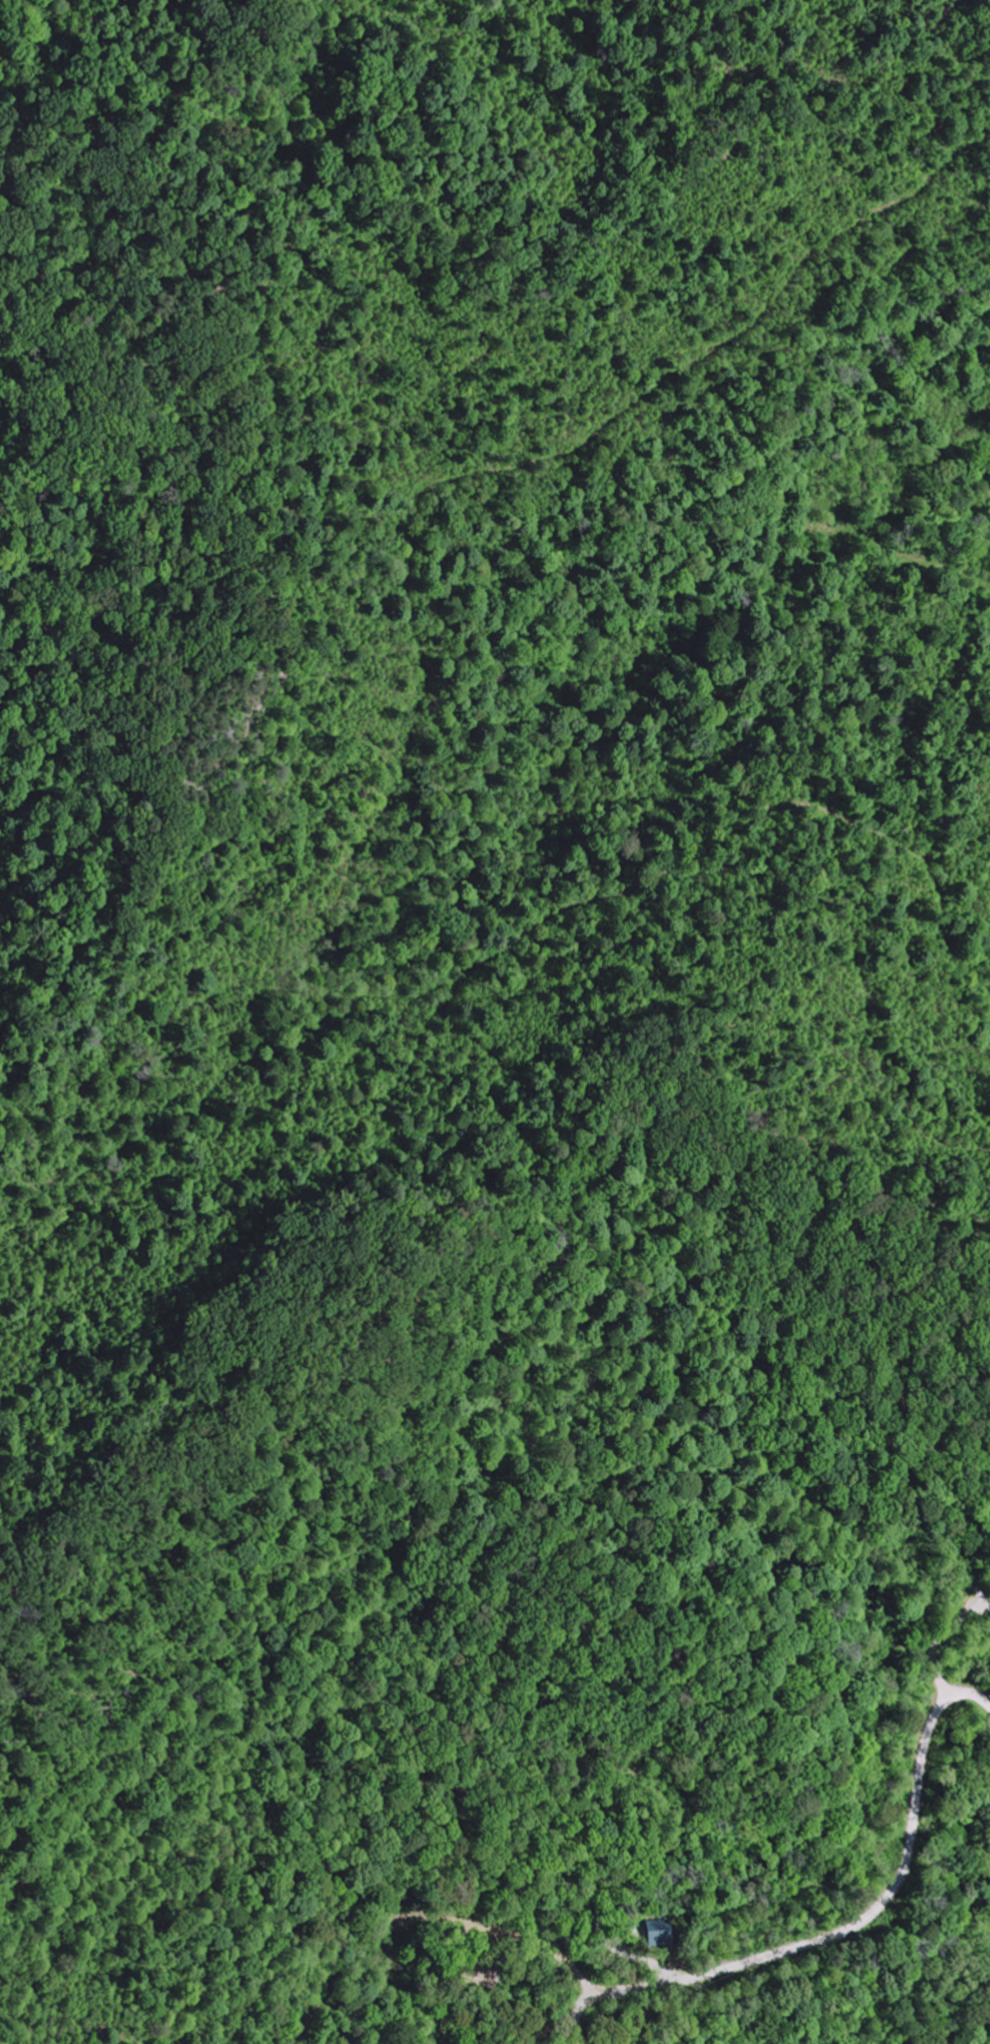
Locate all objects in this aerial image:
road: (845, 1930)

